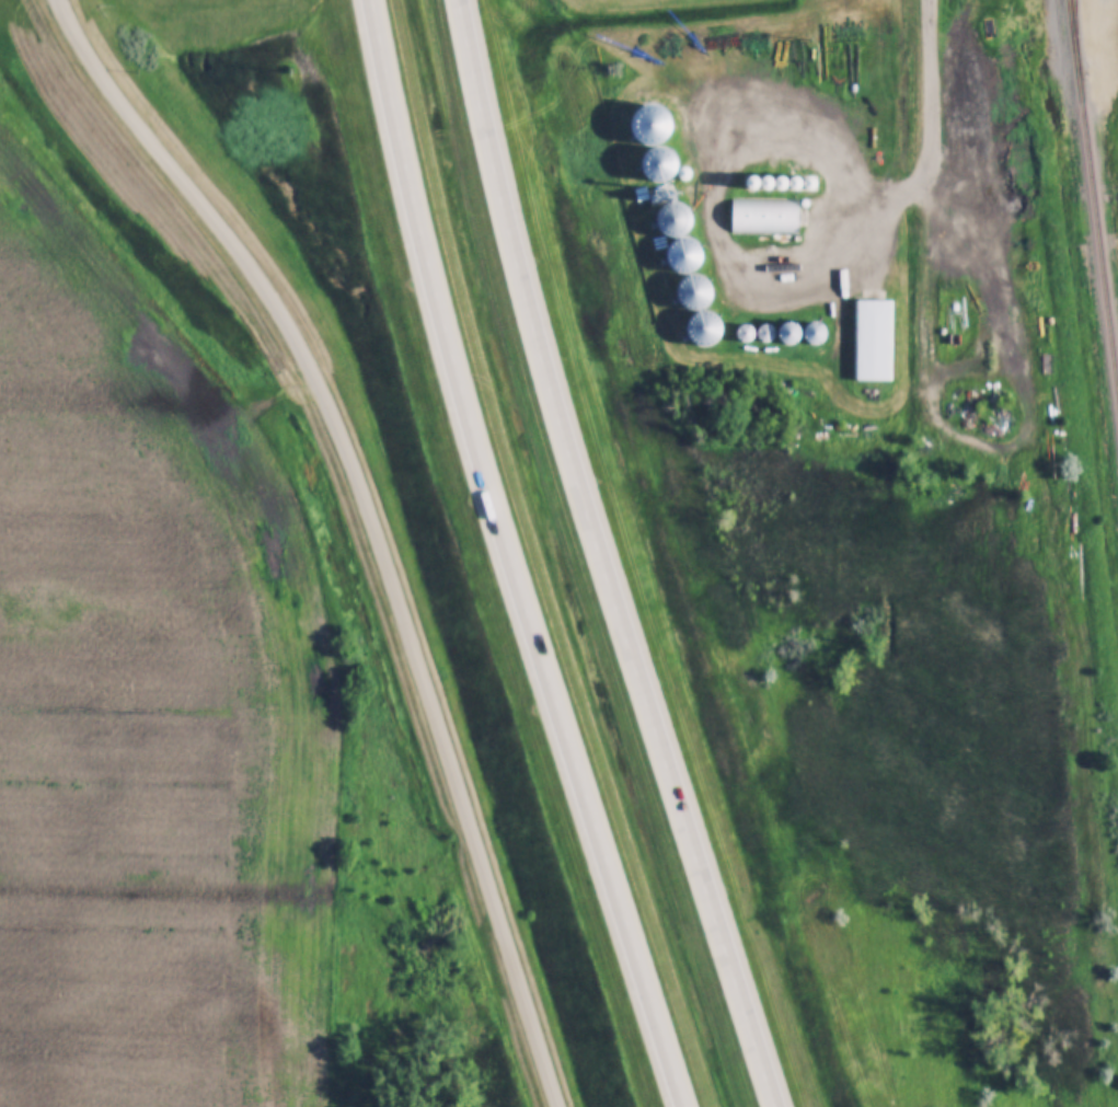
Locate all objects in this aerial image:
railway: (1073, 35)
building: (645, 103)
road: (929, 128)
building: (786, 164)
silo: (786, 164)
building: (728, 166)
building: (757, 181)
silo: (757, 181)
building: (773, 181)
silo: (773, 181)
building: (788, 181)
silo: (788, 181)
road: (701, 194)
railway: (1092, 210)
building: (764, 216)
building: (675, 217)
silo: (675, 217)
building: (683, 254)
silo: (683, 254)
building: (694, 290)
silo: (694, 290)
building: (703, 327)
silo: (703, 327)
building: (746, 331)
silo: (746, 331)
building: (767, 332)
silo: (767, 332)
building: (793, 332)
silo: (793, 332)
building: (818, 332)
silo: (818, 332)
building: (869, 337)
road: (370, 521)
road: (509, 557)
road: (600, 557)
crop: (149, 699)

